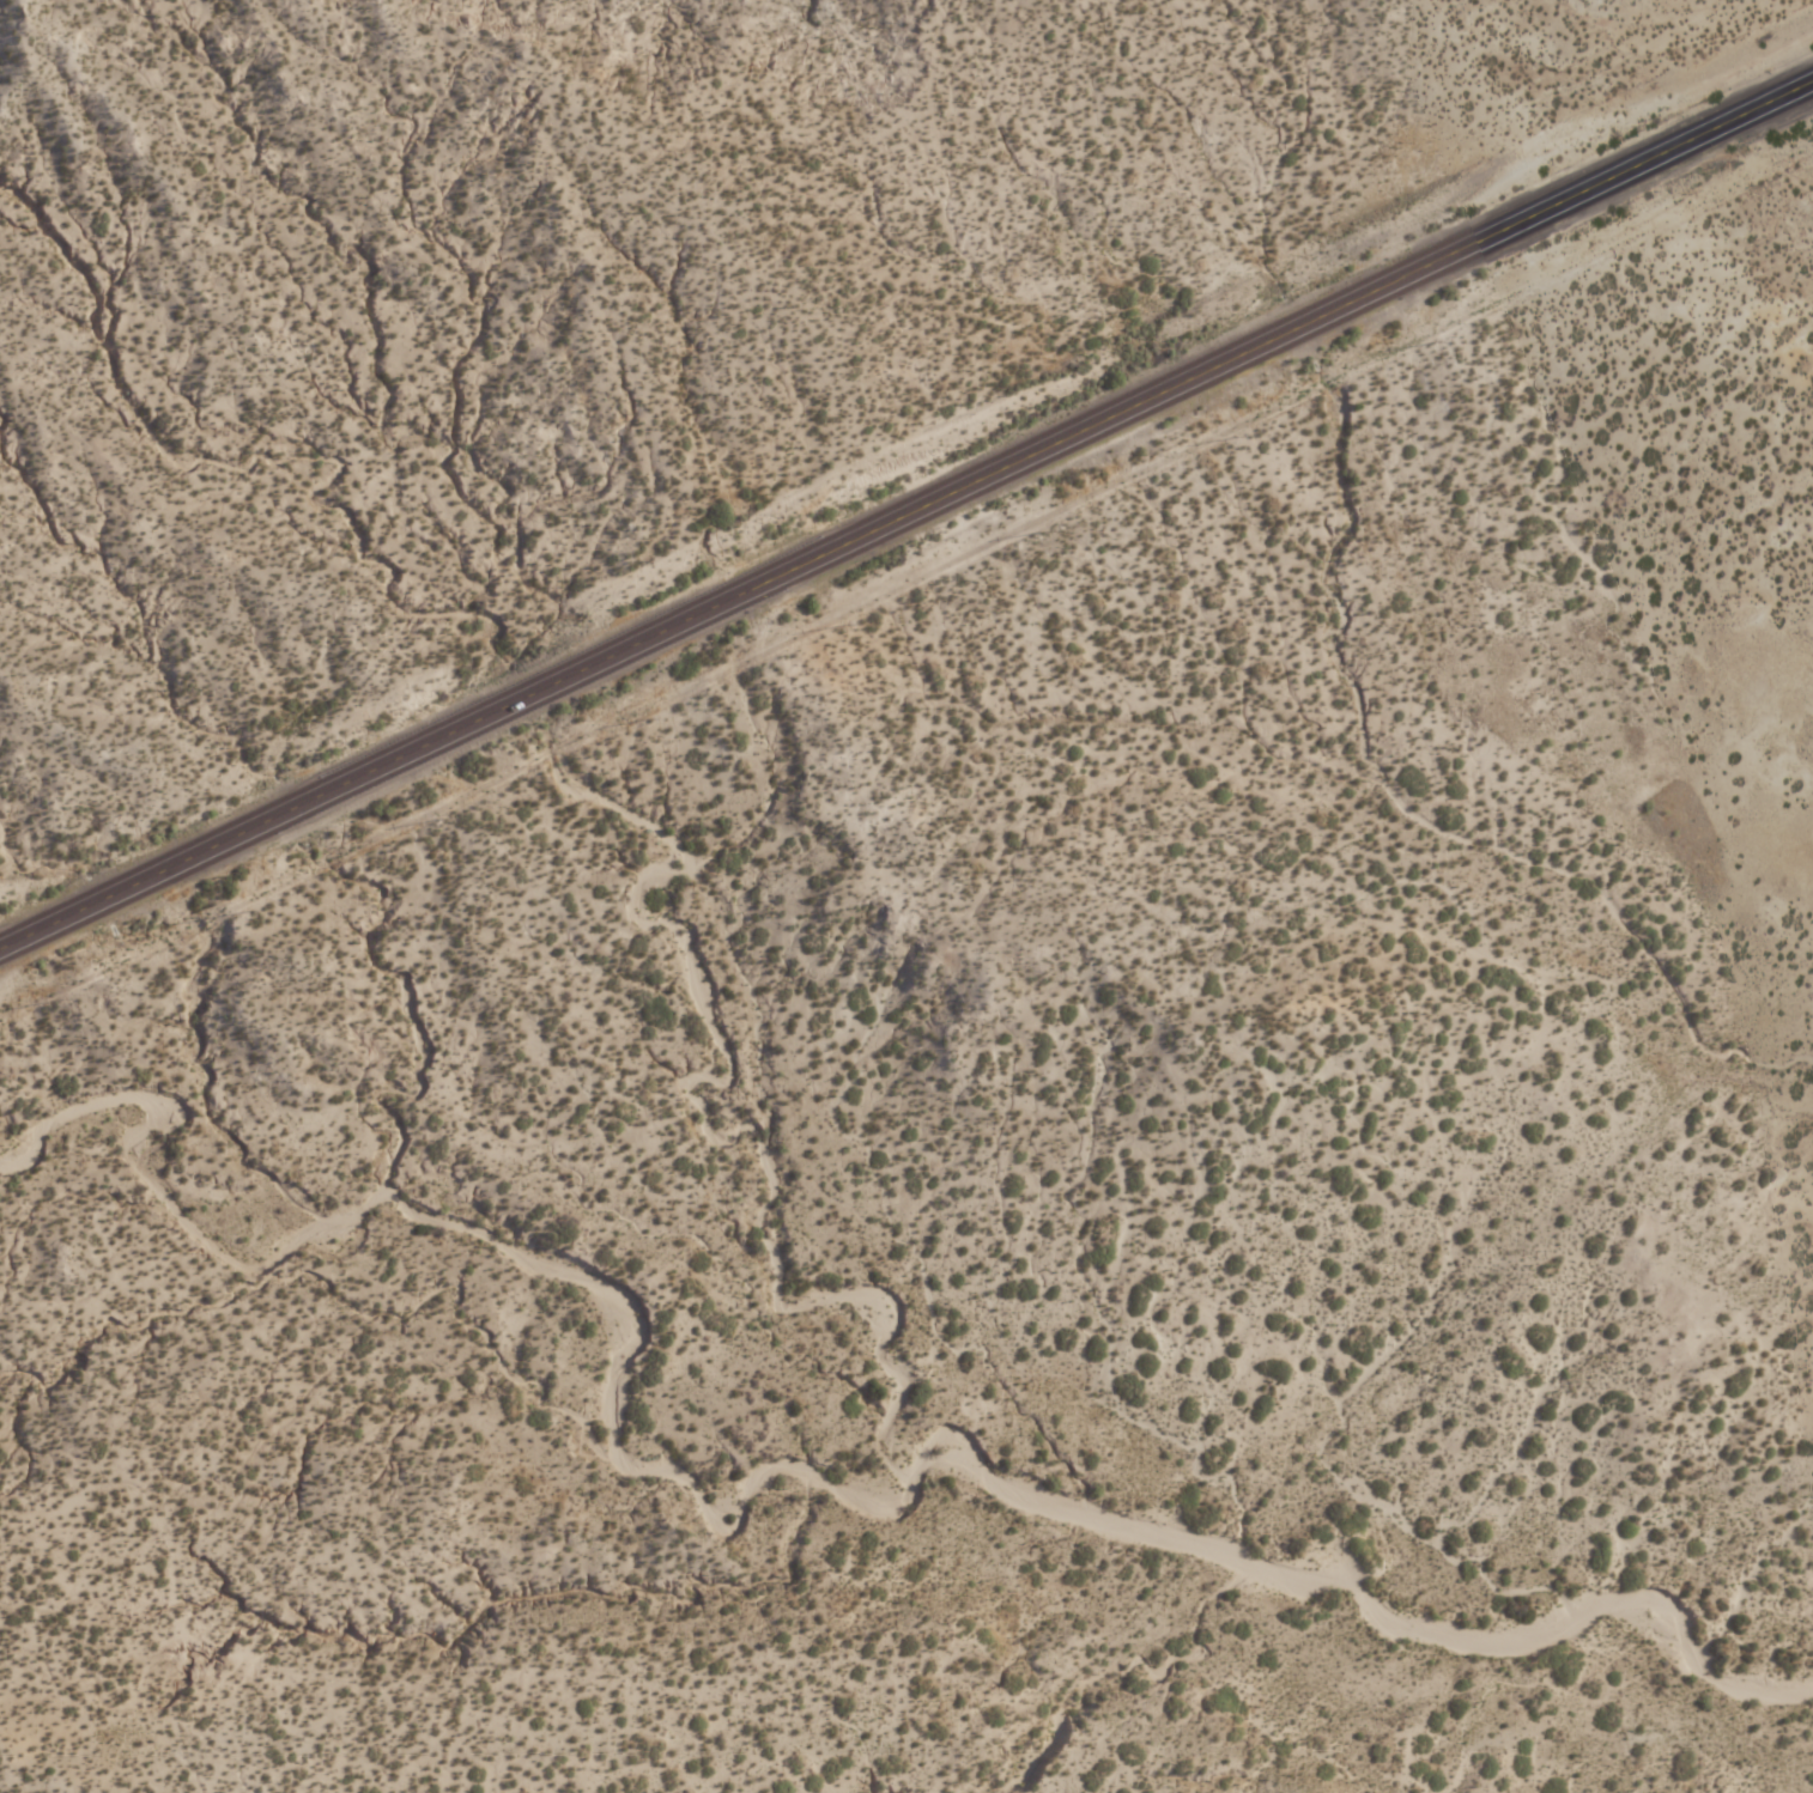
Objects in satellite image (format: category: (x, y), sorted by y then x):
road: (906, 512)

